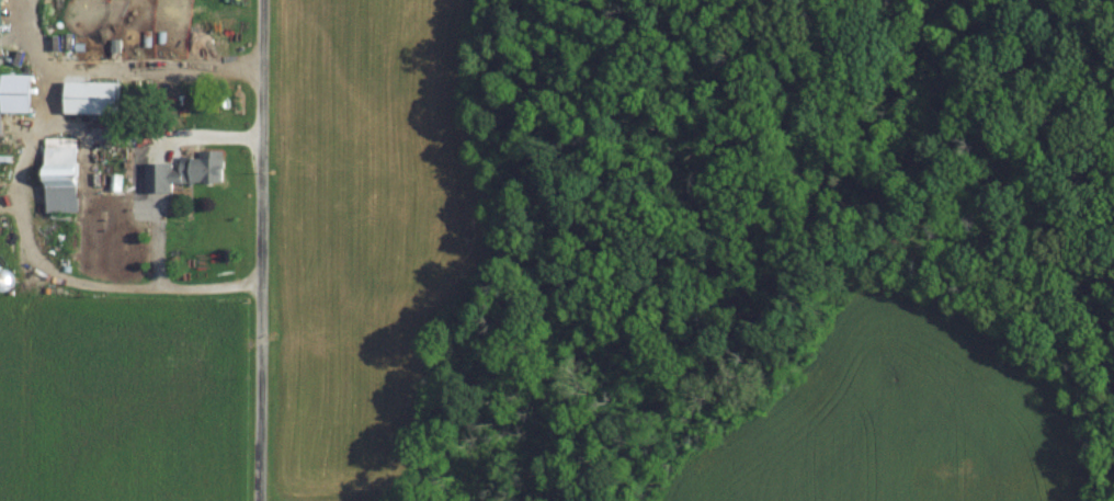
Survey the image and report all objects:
building: (19, 91)
building: (96, 95)
road: (208, 136)
building: (189, 169)
building: (65, 173)
road: (13, 175)
road: (260, 250)

